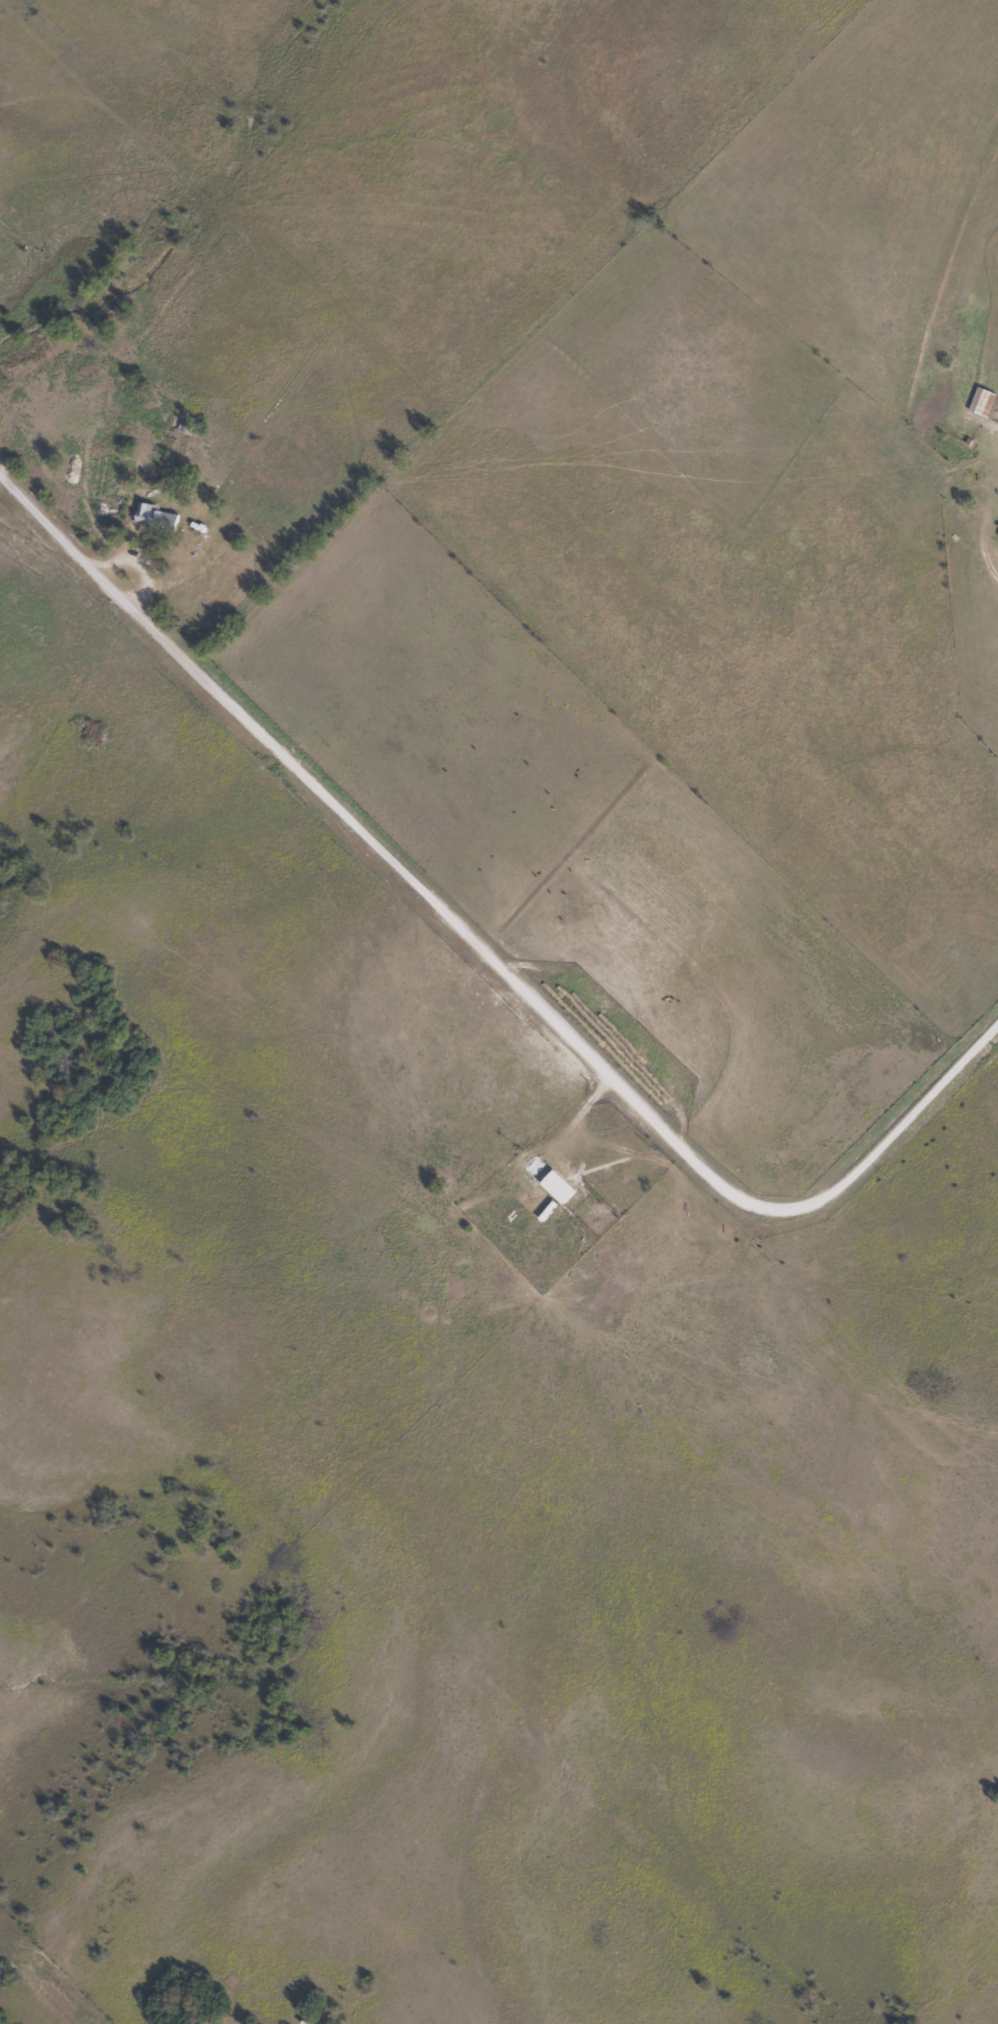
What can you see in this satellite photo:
building: (978, 403)
building: (158, 518)
building: (996, 539)
road: (994, 551)
road: (491, 937)
building: (573, 1191)

